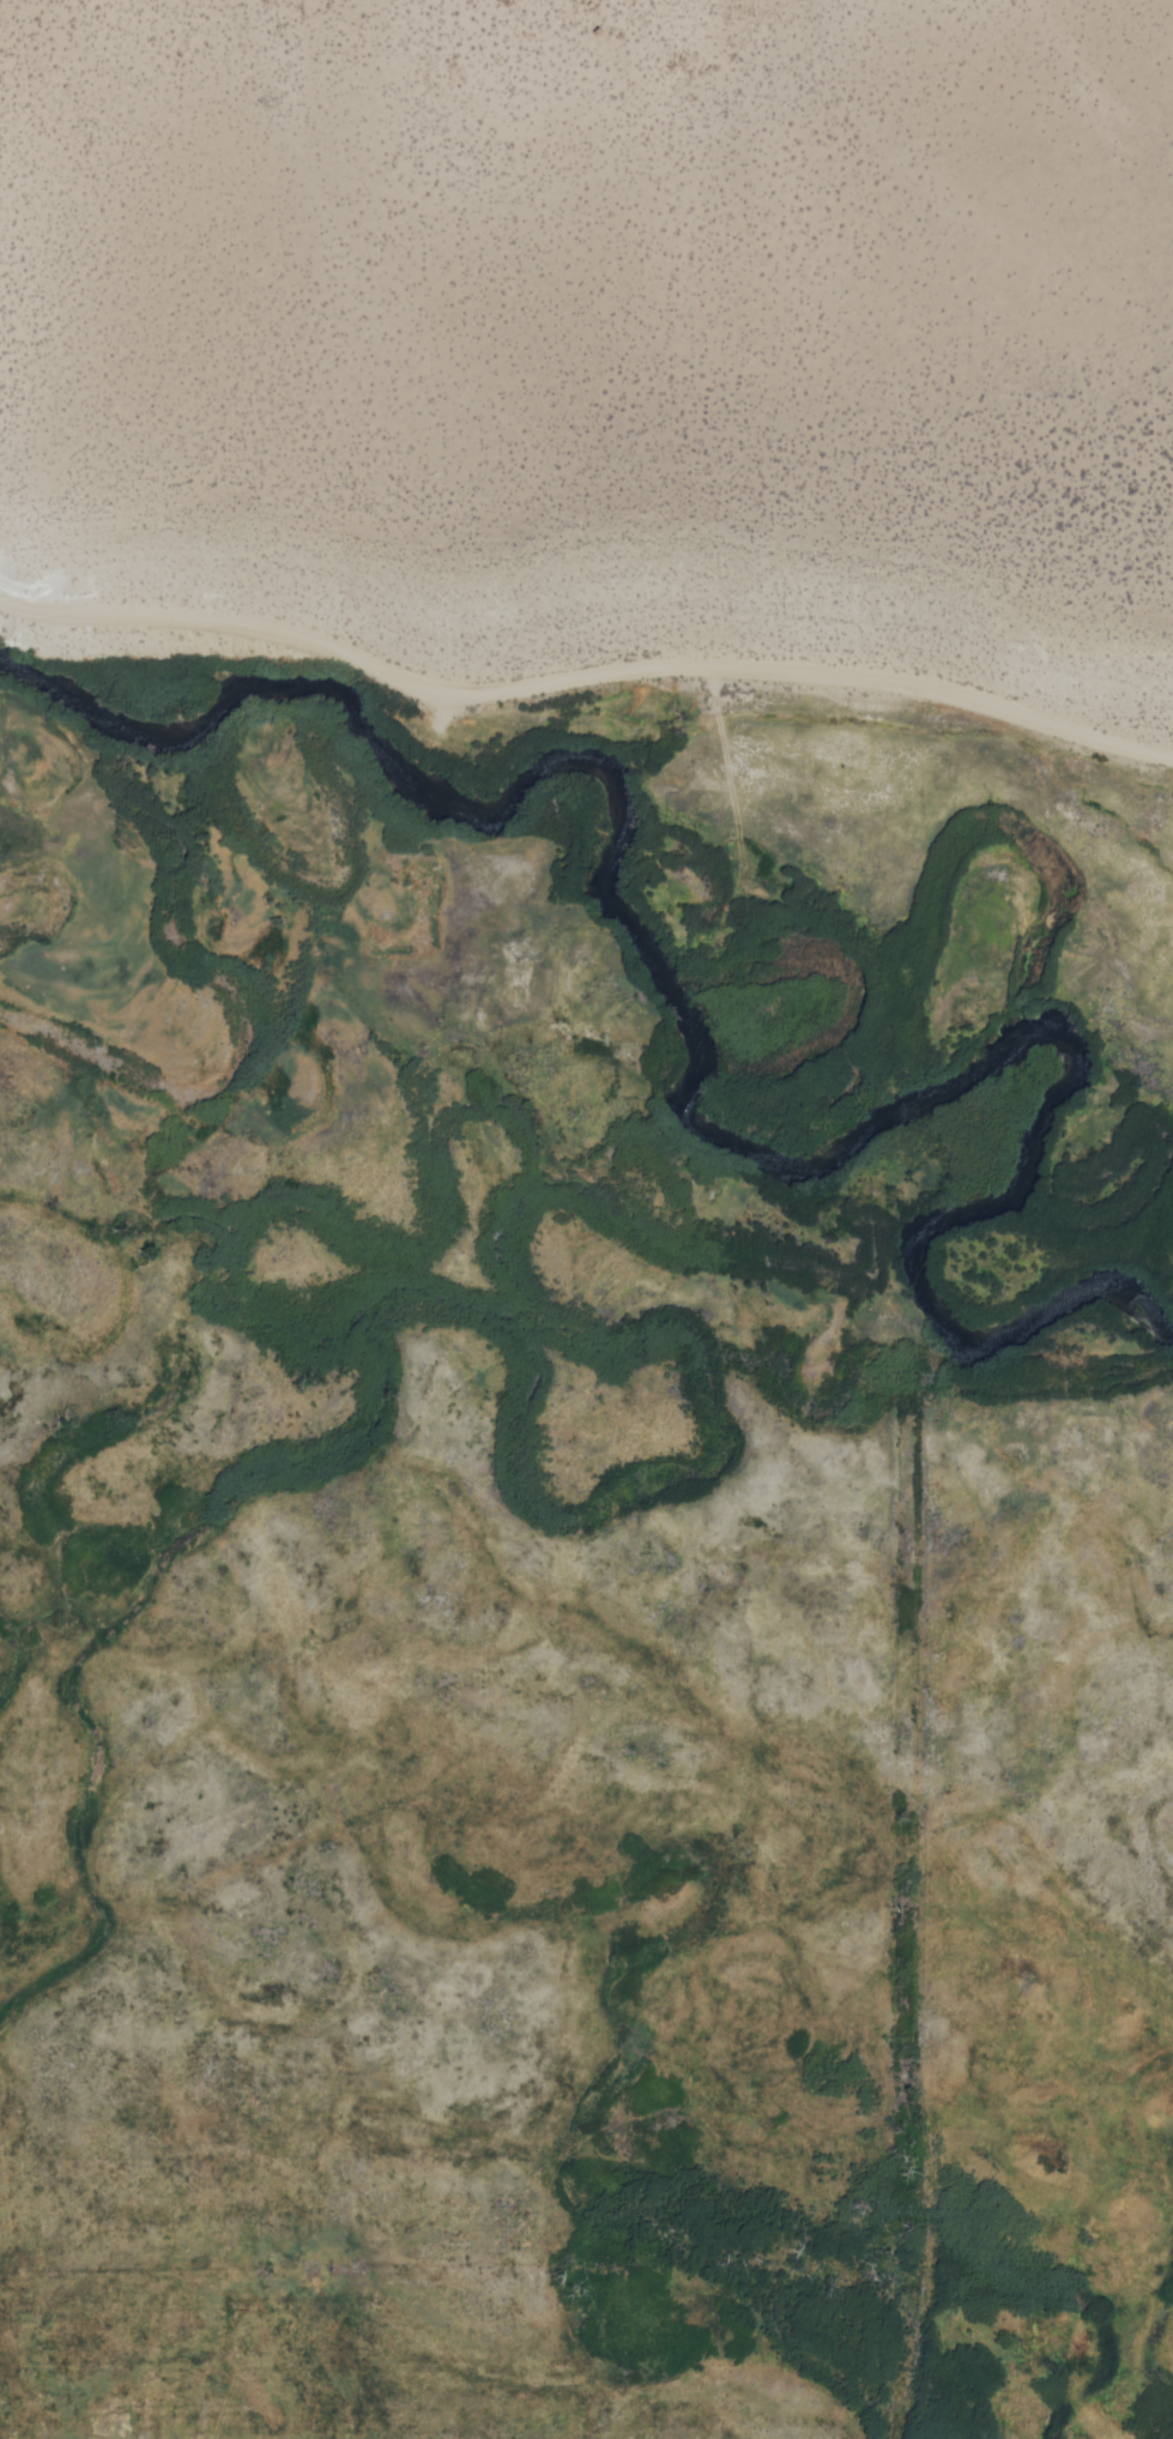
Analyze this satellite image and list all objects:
road: (584, 677)
river: (661, 976)
river: (1033, 1340)

